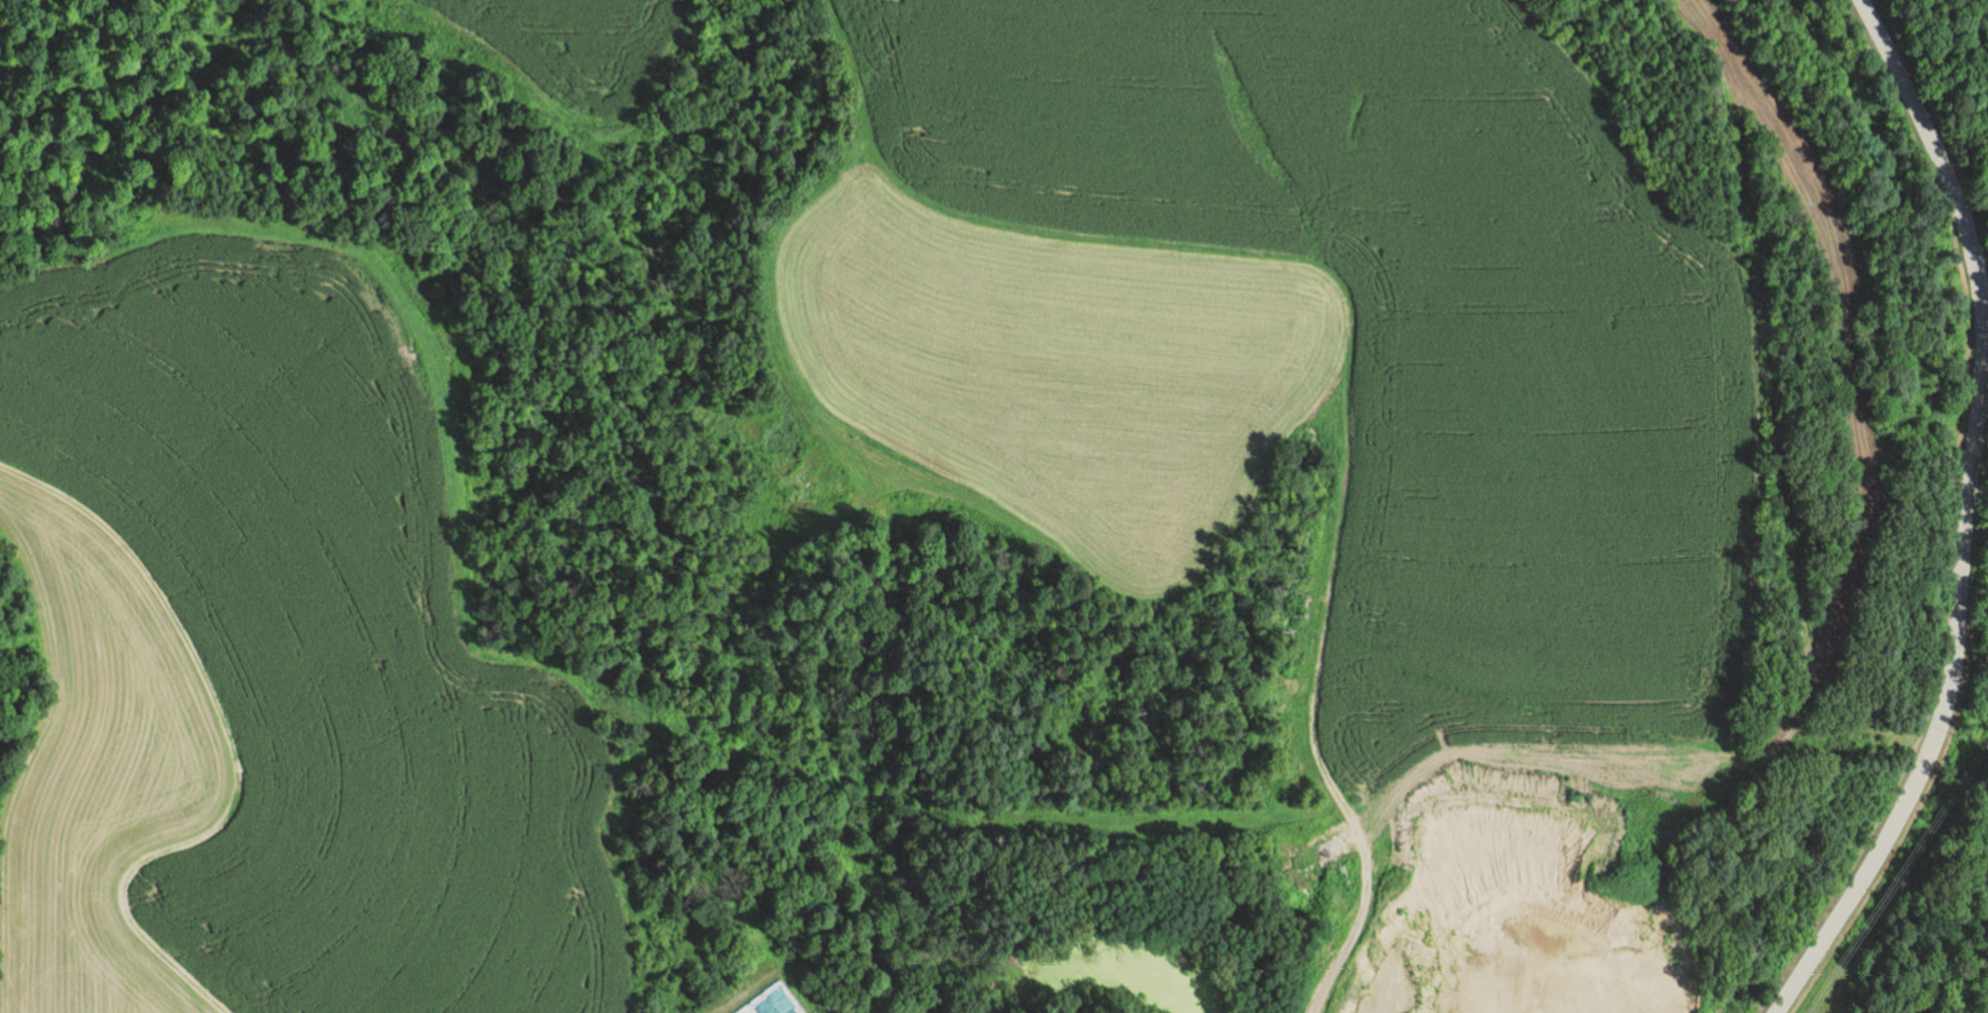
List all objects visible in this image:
road: (1965, 517)

